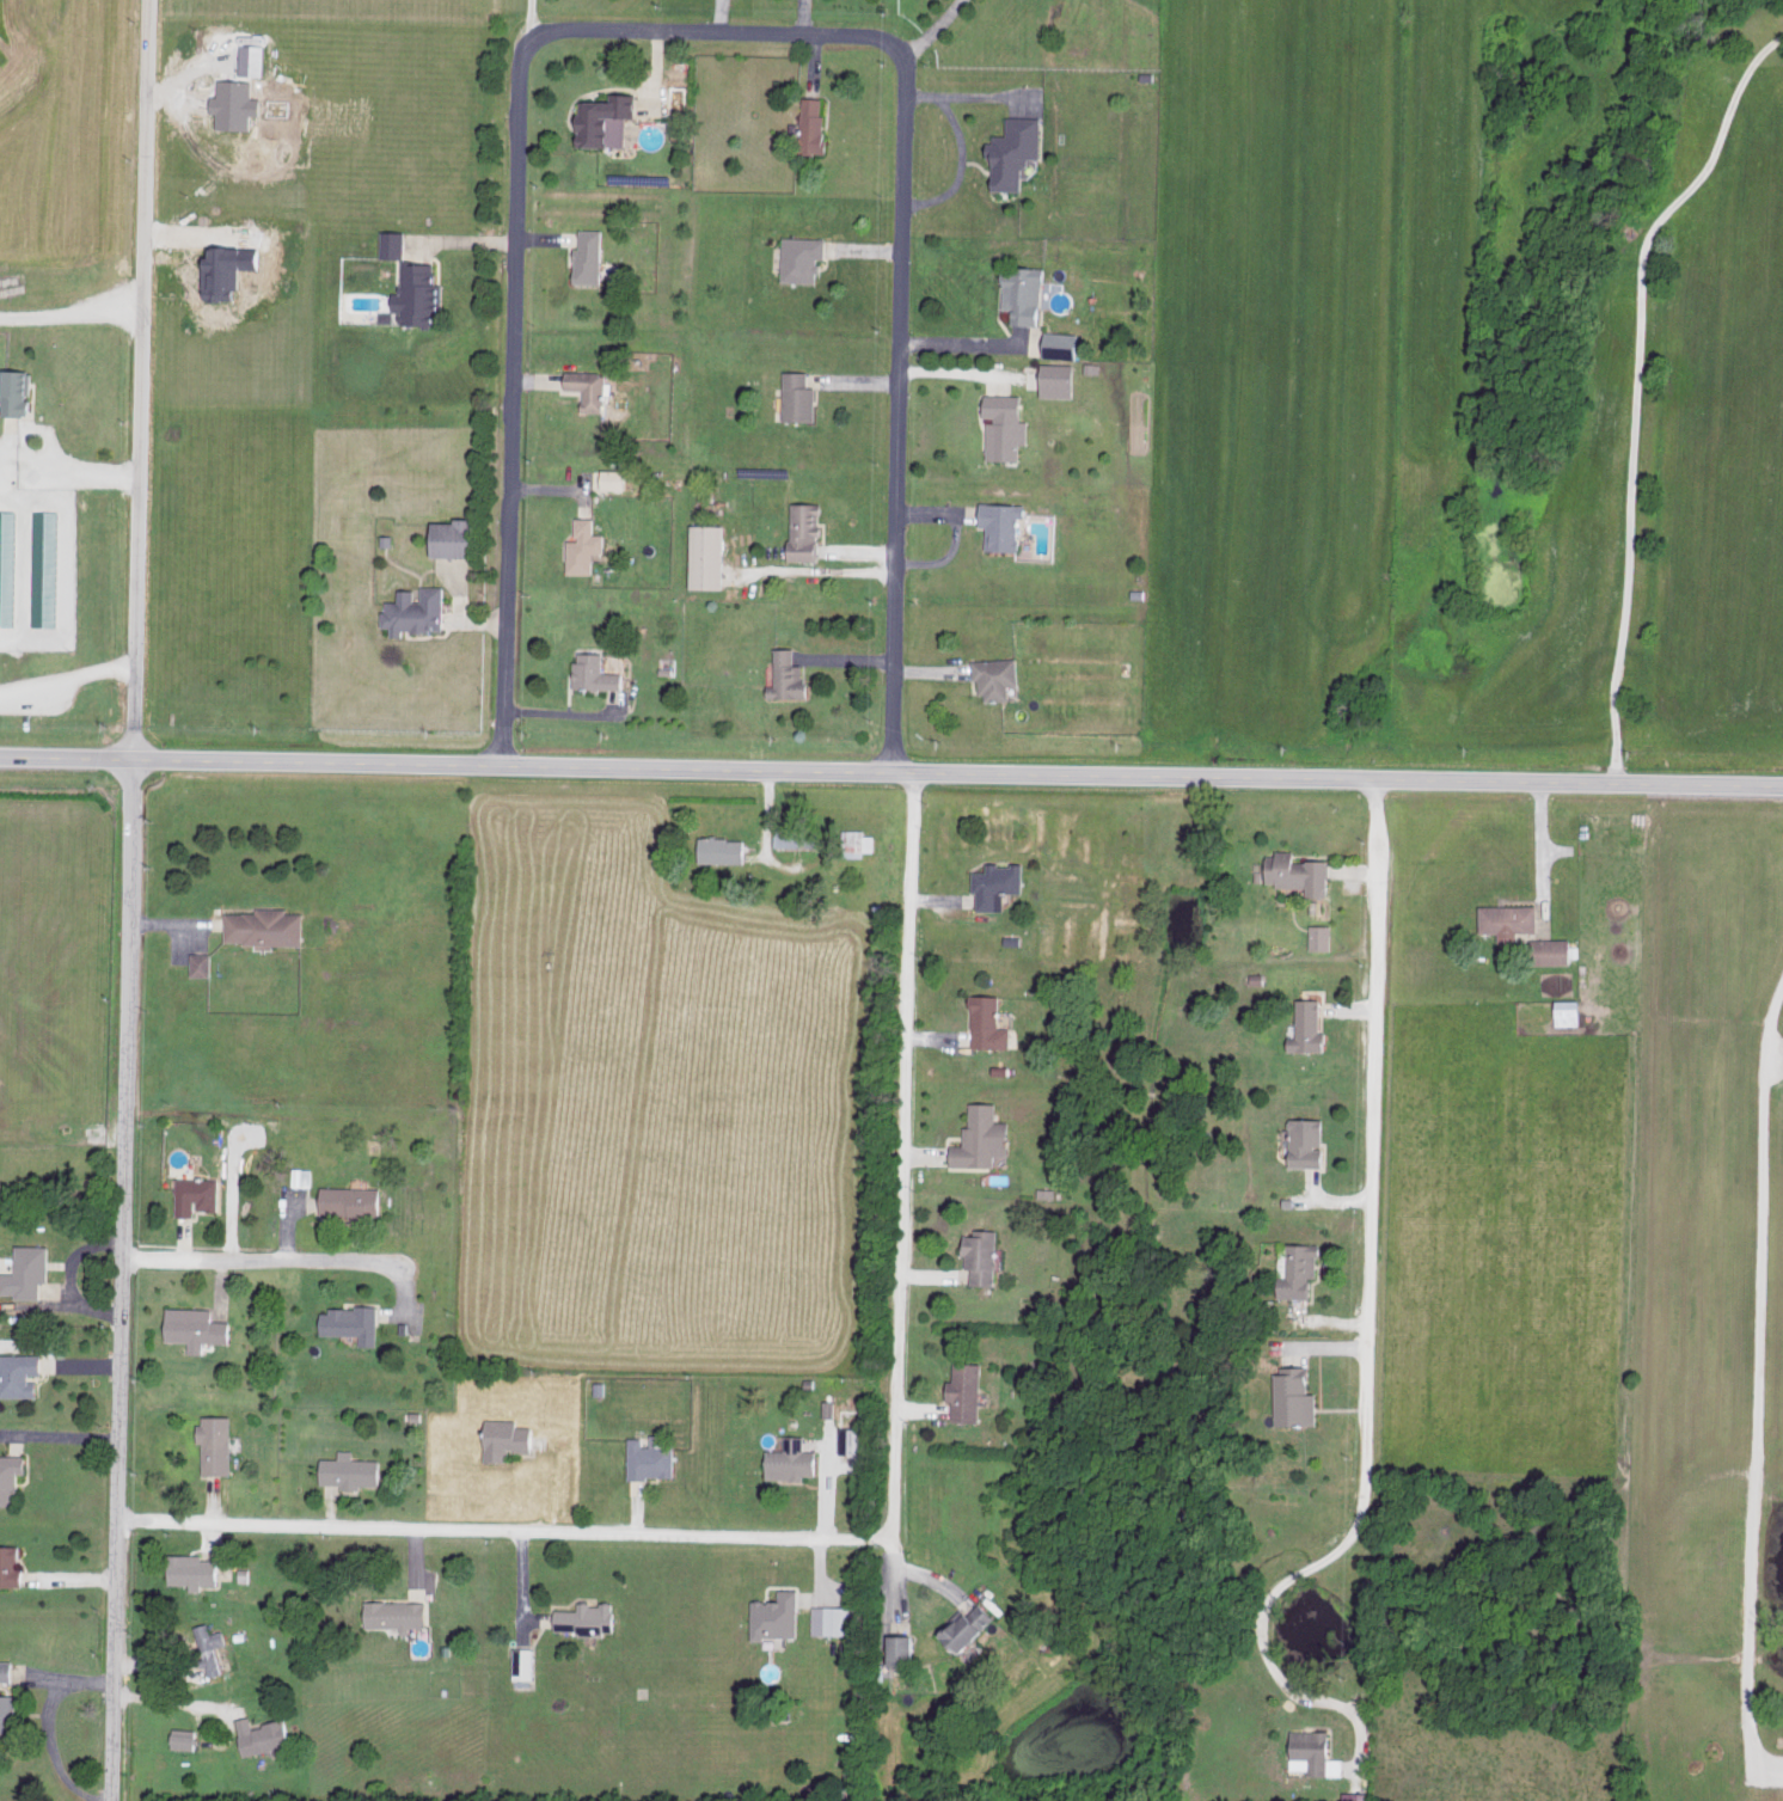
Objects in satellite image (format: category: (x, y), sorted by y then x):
road: (707, 26)
road: (937, 38)
building: (256, 57)
building: (233, 103)
building: (611, 117)
building: (816, 123)
building: (1018, 151)
building: (397, 243)
building: (593, 253)
building: (805, 257)
building: (423, 292)
building: (1027, 293)
road: (72, 314)
building: (1062, 343)
road: (961, 351)
building: (1061, 379)
building: (592, 387)
road: (1637, 388)
building: (20, 390)
building: (802, 396)
building: (1009, 424)
building: (614, 477)
road: (57, 494)
building: (809, 529)
building: (457, 537)
building: (588, 546)
building: (712, 555)
building: (10, 565)
building: (49, 566)
building: (419, 609)
building: (599, 672)
building: (792, 674)
building: (991, 675)
road: (890, 774)
building: (799, 837)
building: (859, 841)
road: (1543, 846)
building: (727, 849)
building: (1289, 871)
building: (993, 883)
road: (131, 900)
building: (1503, 919)
building: (269, 925)
building: (1317, 936)
building: (1546, 950)
building: (204, 963)
building: (1561, 1011)
building: (984, 1022)
building: (1304, 1027)
building: (976, 1137)
building: (1300, 1141)
road: (1370, 1148)
road: (897, 1158)
building: (302, 1175)
building: (200, 1193)
building: (354, 1200)
building: (985, 1254)
road: (293, 1263)
building: (30, 1270)
building: (1294, 1270)
building: (355, 1322)
building: (201, 1325)
building: (22, 1373)
road: (1756, 1382)
building: (969, 1390)
building: (1289, 1397)
building: (832, 1407)
building: (511, 1438)
building: (853, 1439)
building: (220, 1444)
building: (655, 1456)
building: (796, 1459)
building: (354, 1469)
building: (12, 1476)
road: (502, 1531)
building: (12, 1564)
building: (197, 1569)
road: (913, 1576)
building: (400, 1612)
building: (779, 1615)
building: (589, 1616)
building: (835, 1618)
building: (969, 1625)
road: (1264, 1641)
building: (213, 1647)
building: (908, 1648)
building: (850, 1649)
building: (525, 1662)
building: (7, 1668)
road: (173, 1704)
building: (8, 1707)
building: (188, 1738)
building: (1310, 1753)
building: (1355, 1796)

